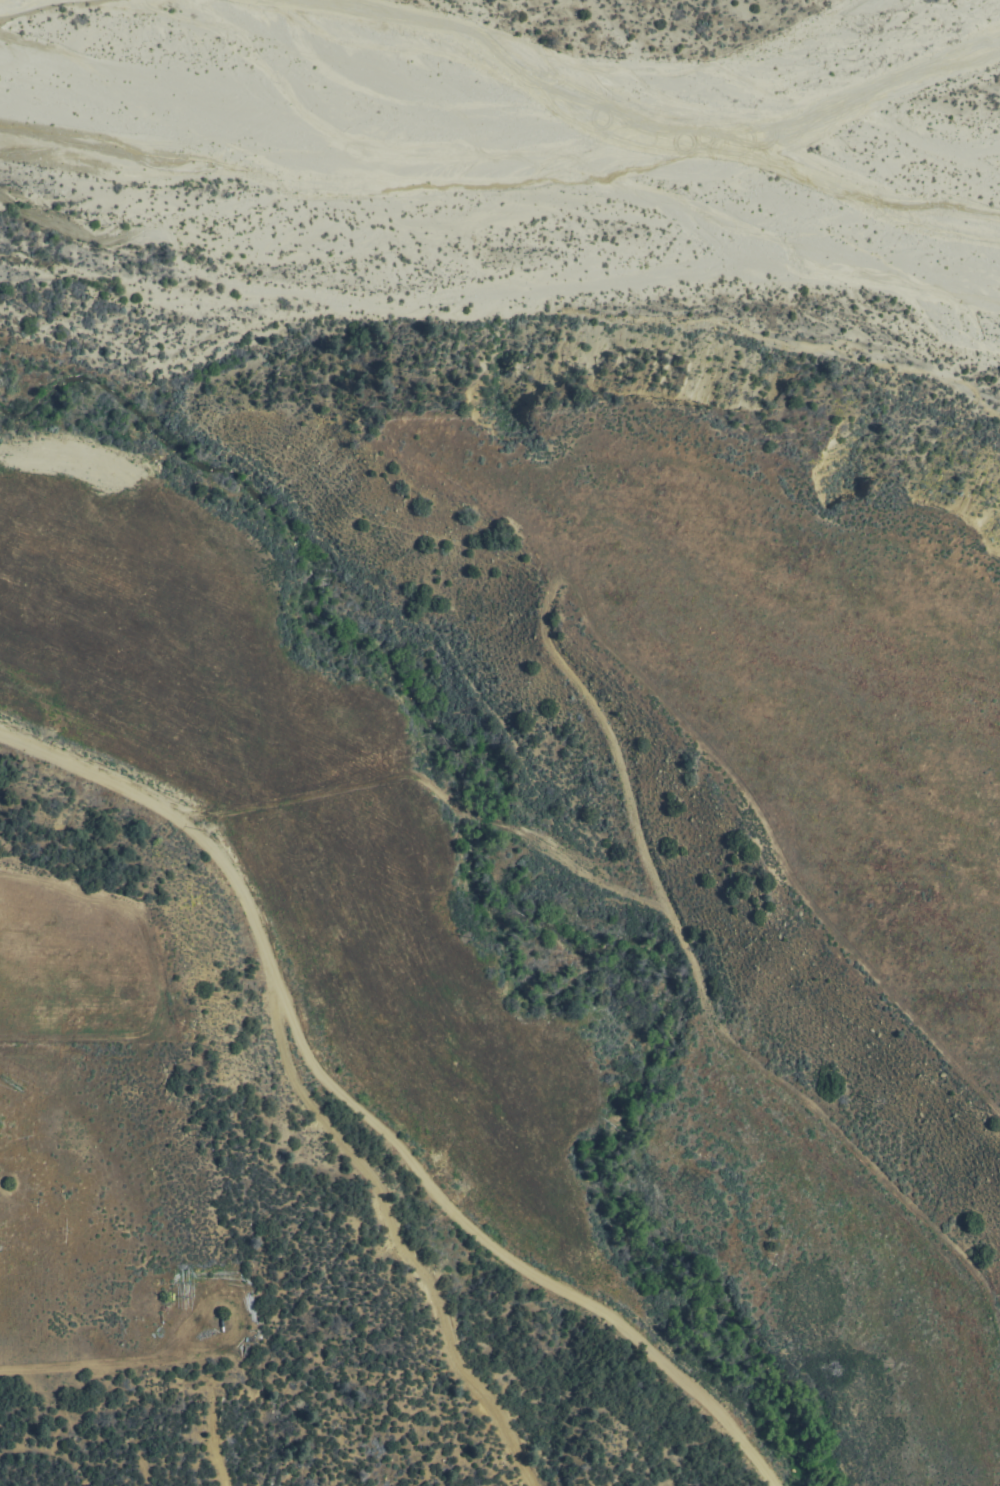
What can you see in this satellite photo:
river: (807, 72)
river: (292, 105)
road: (363, 1121)

